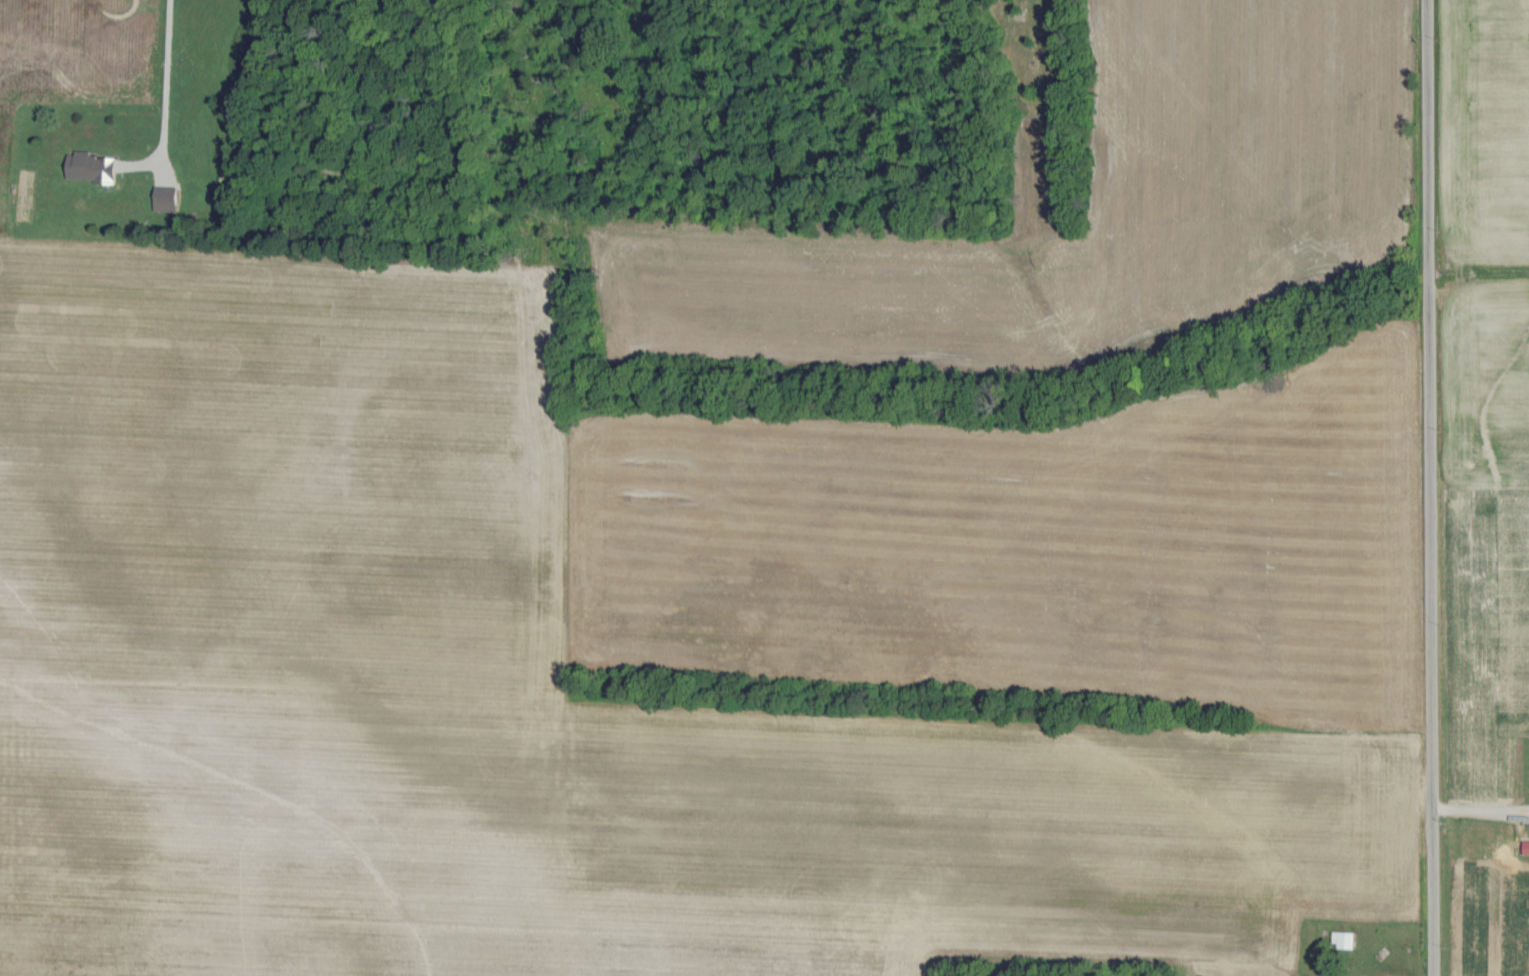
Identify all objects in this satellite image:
road: (166, 88)
building: (94, 167)
building: (168, 197)
road: (1431, 488)
building: (1527, 846)
building: (1347, 938)

